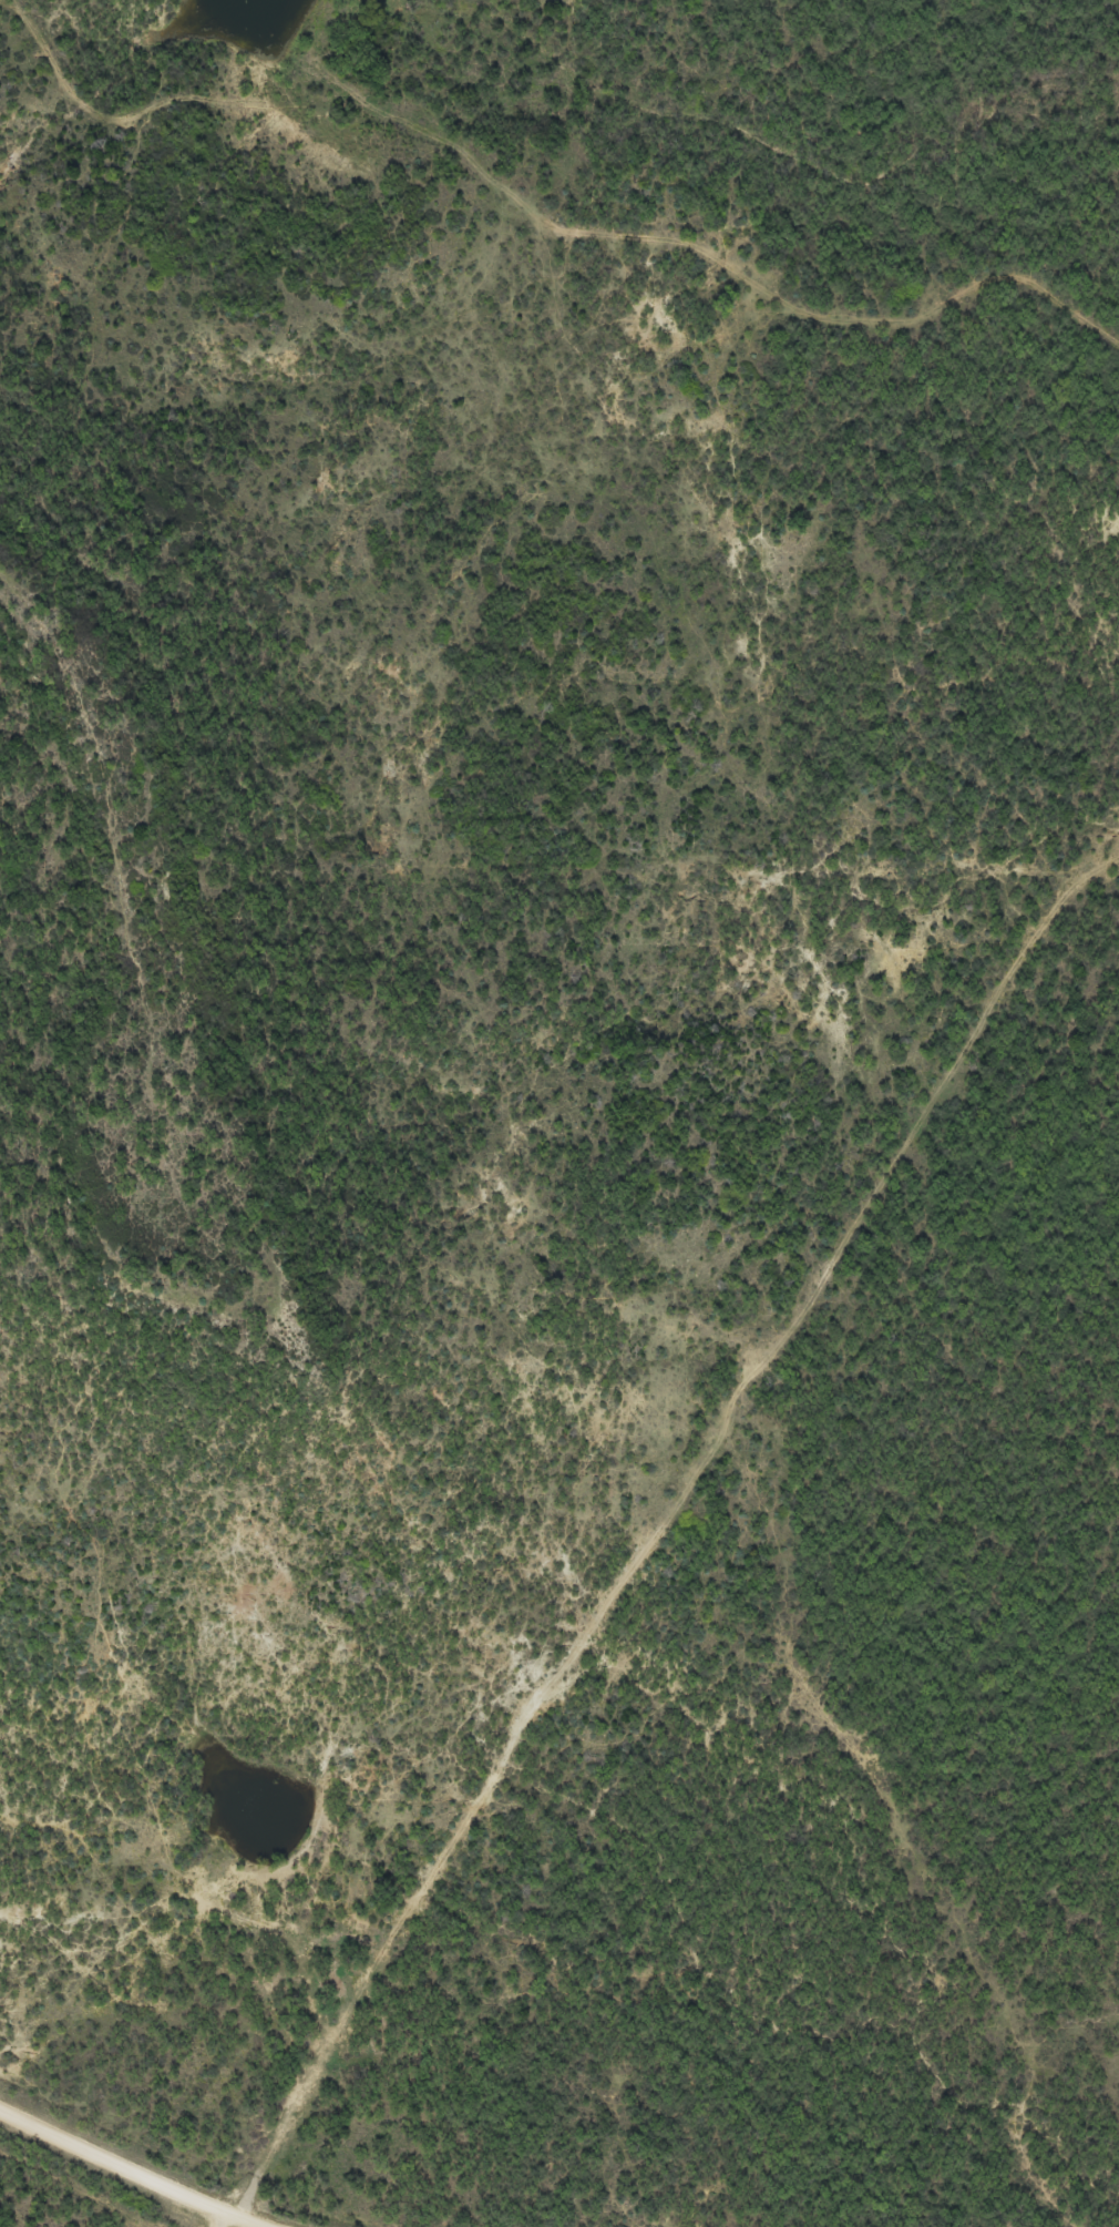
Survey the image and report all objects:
road: (109, 2168)

